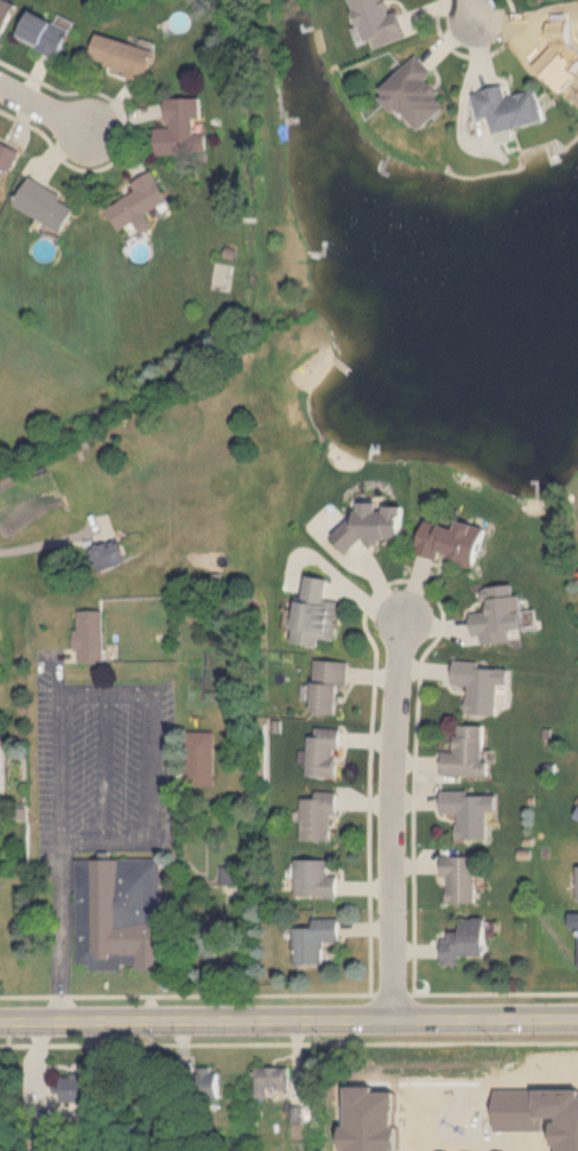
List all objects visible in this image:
road: (470, 10)
building: (5, 12)
building: (376, 20)
building: (45, 32)
building: (121, 55)
building: (558, 67)
building: (412, 89)
building: (507, 105)
road: (43, 107)
building: (182, 127)
building: (6, 159)
building: (140, 202)
building: (46, 203)
building: (375, 525)
building: (453, 543)
building: (108, 555)
building: (318, 613)
building: (501, 615)
building: (91, 638)
building: (331, 687)
building: (483, 687)
road: (103, 695)
building: (324, 752)
building: (466, 752)
road: (106, 769)
road: (151, 769)
building: (469, 811)
building: (319, 816)
road: (392, 821)
road: (104, 843)
road: (58, 854)
building: (315, 878)
building: (461, 879)
building: (120, 912)
building: (573, 921)
building: (313, 941)
building: (465, 941)
building: (210, 947)
road: (288, 994)
road: (288, 1020)
road: (288, 1043)
building: (271, 1080)
building: (205, 1082)
building: (75, 1087)
building: (464, 1115)

